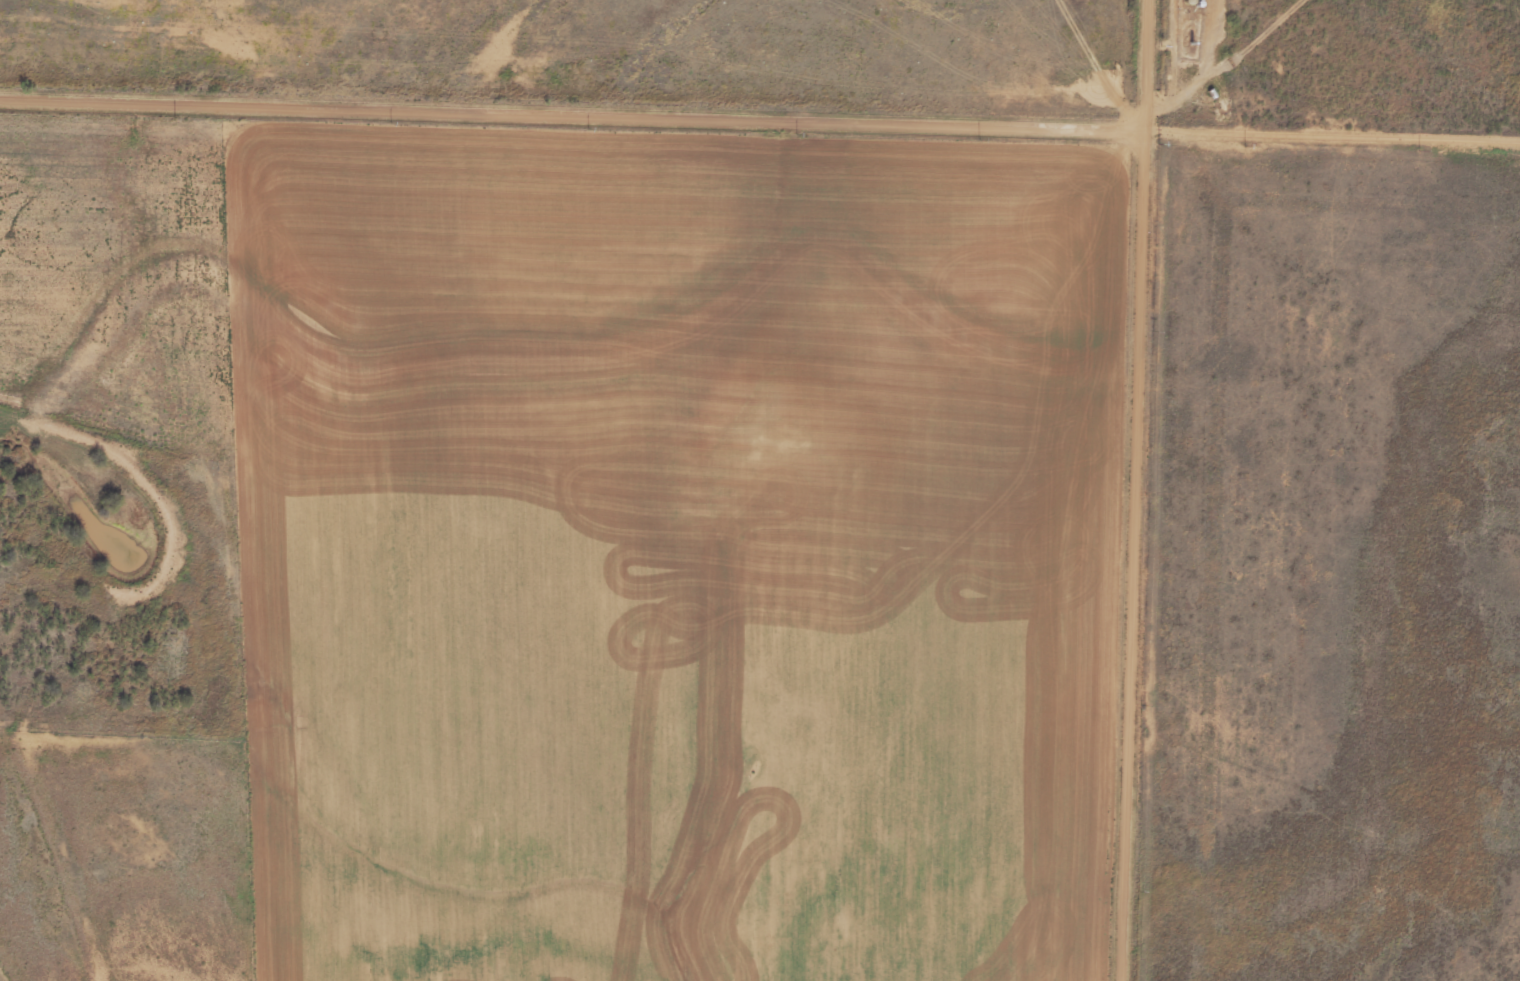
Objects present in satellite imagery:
road: (573, 110)
road: (1333, 133)
road: (1137, 490)

